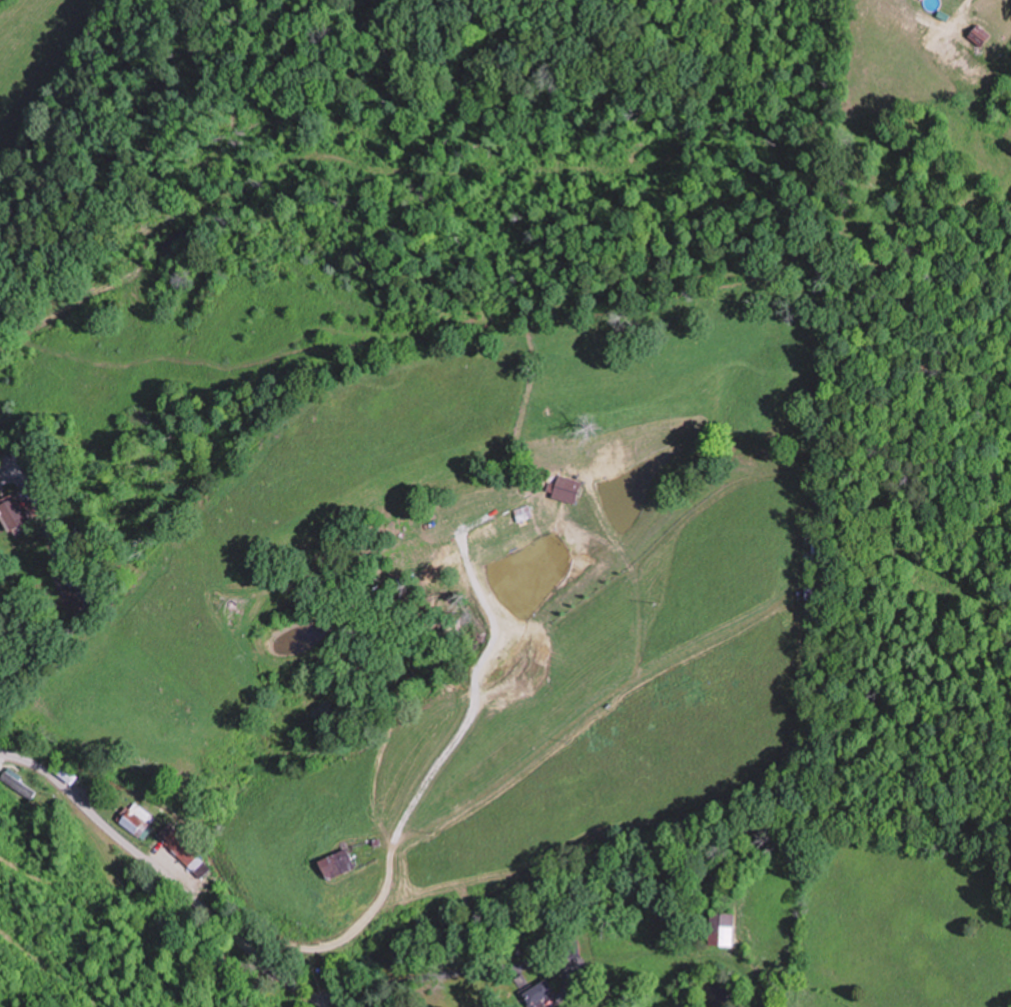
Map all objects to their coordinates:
building: (19, 513)
road: (342, 595)
building: (17, 787)
building: (136, 818)
building: (184, 851)
building: (341, 863)
road: (166, 876)
building: (725, 929)
building: (538, 992)

